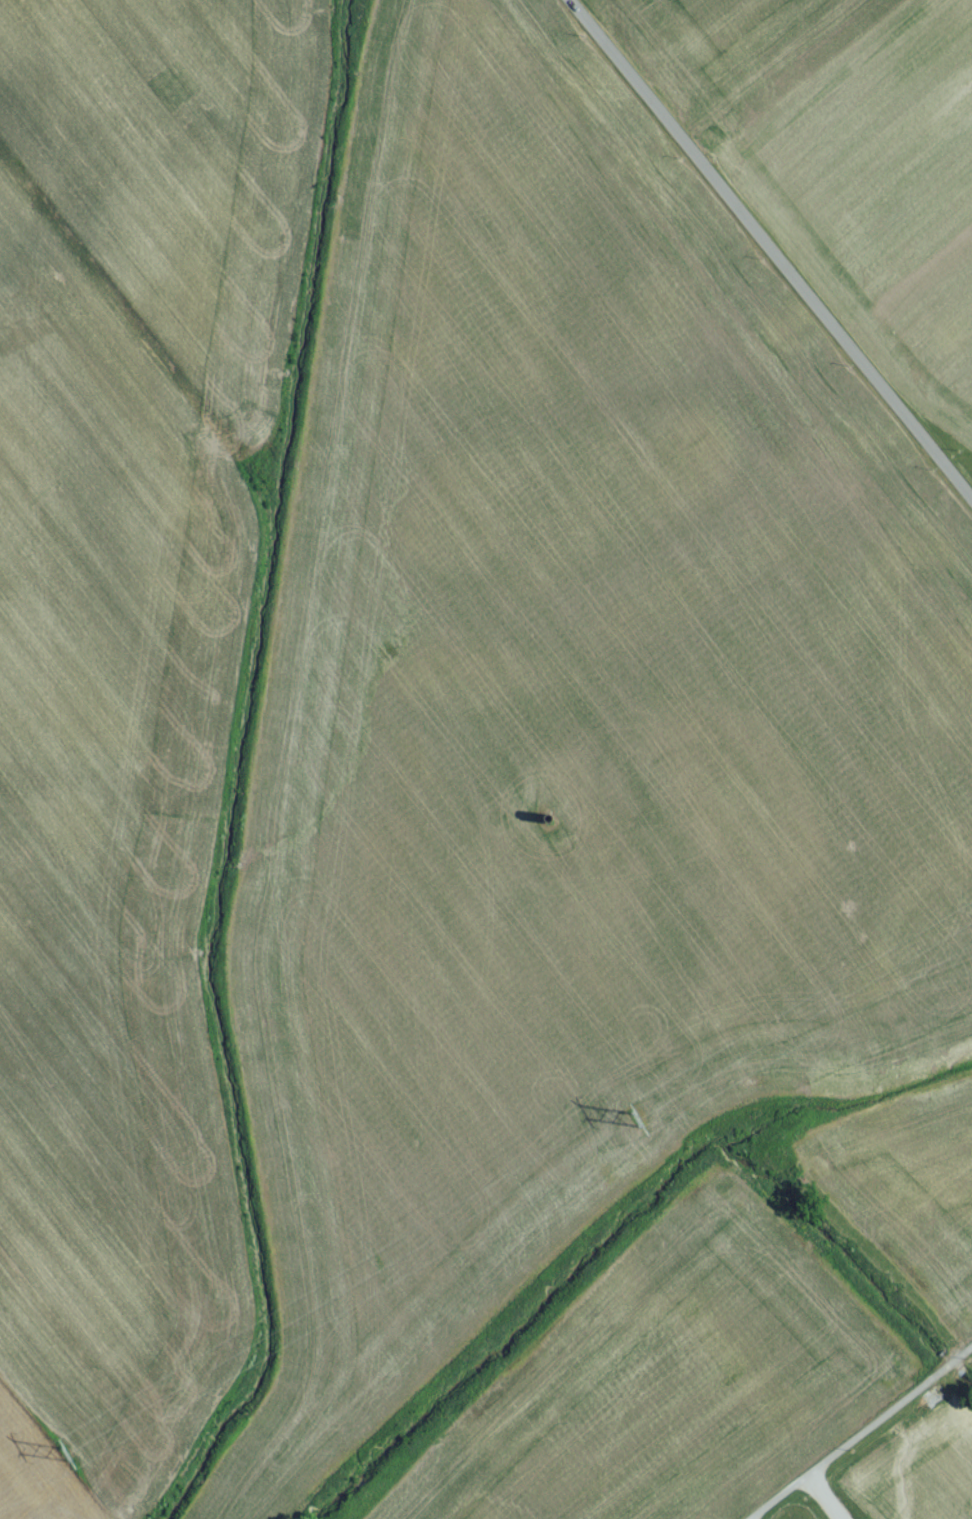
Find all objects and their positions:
road: (767, 252)
power tower: (637, 1126)
road: (854, 1425)
power tower: (66, 1461)
road: (824, 1492)
road: (738, 1518)

